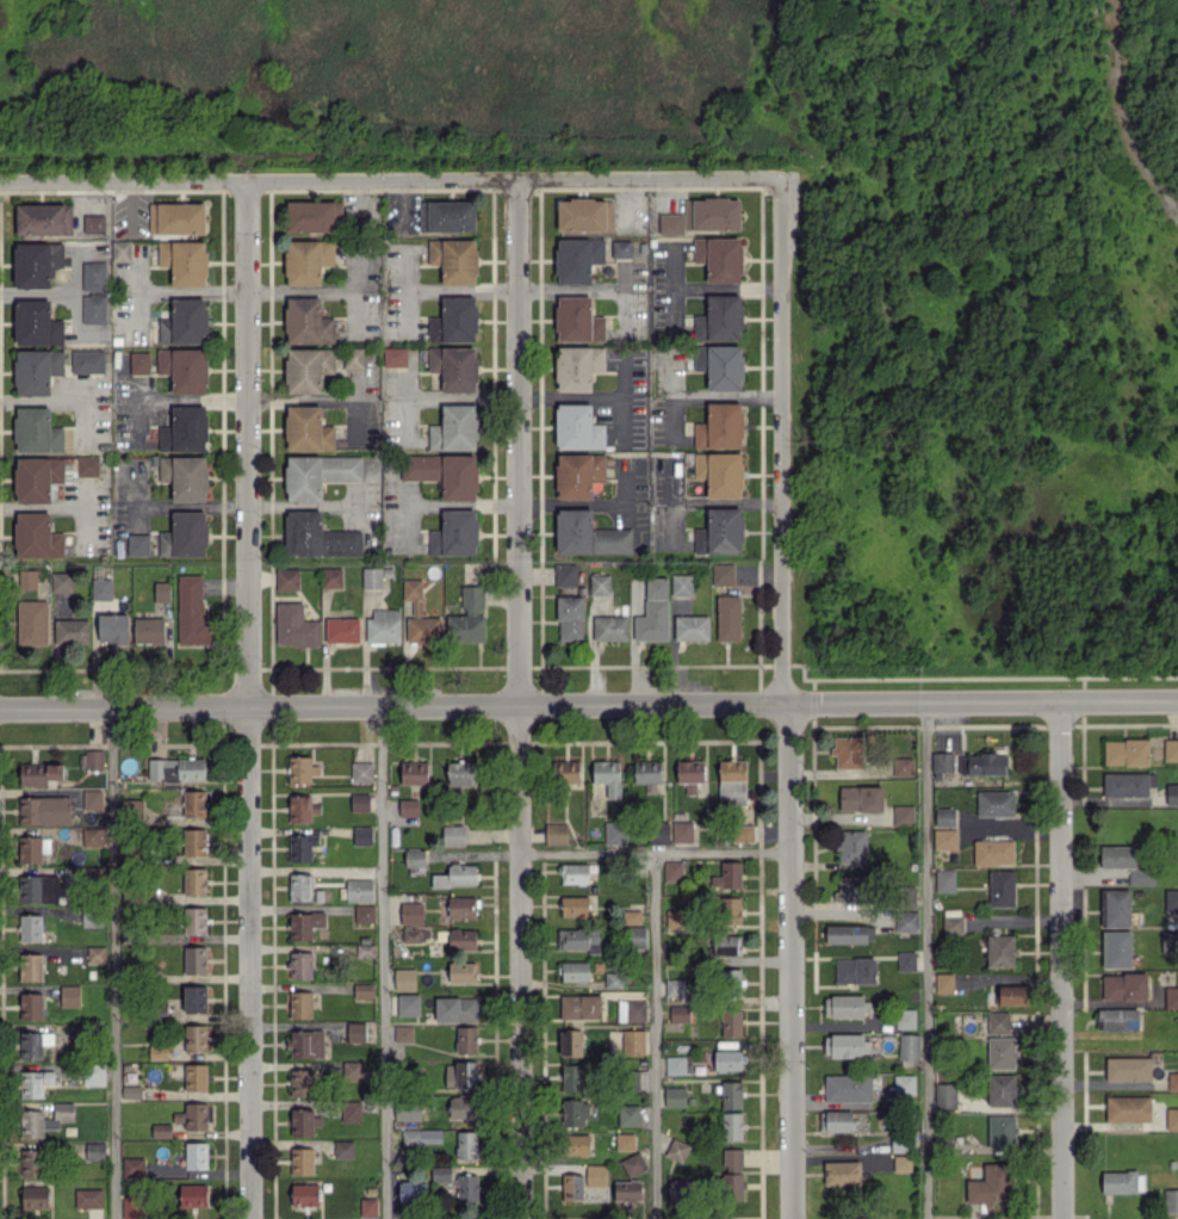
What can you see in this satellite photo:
road: (1123, 113)
road: (390, 184)
building: (712, 214)
building: (584, 215)
building: (311, 216)
building: (447, 216)
building: (176, 217)
building: (43, 218)
building: (93, 223)
building: (670, 223)
building: (621, 248)
building: (120, 250)
building: (719, 258)
building: (577, 259)
building: (306, 260)
building: (454, 260)
building: (184, 261)
building: (35, 262)
building: (93, 276)
road: (589, 287)
road: (461, 291)
building: (93, 309)
building: (719, 318)
building: (454, 320)
building: (577, 320)
building: (184, 321)
building: (308, 321)
building: (36, 323)
building: (395, 357)
building: (87, 360)
building: (138, 361)
building: (317, 366)
building: (720, 366)
building: (454, 367)
building: (577, 367)
building: (184, 369)
building: (36, 370)
road: (669, 373)
road: (622, 375)
road: (353, 386)
road: (703, 396)
road: (461, 397)
road: (594, 397)
road: (191, 398)
road: (322, 398)
building: (720, 426)
building: (577, 427)
building: (454, 428)
building: (185, 429)
building: (306, 429)
building: (36, 431)
road: (781, 440)
building: (87, 465)
building: (720, 472)
building: (317, 474)
building: (445, 474)
building: (578, 474)
building: (38, 477)
building: (185, 477)
road: (303, 505)
road: (464, 505)
road: (188, 506)
building: (720, 531)
building: (188, 533)
building: (454, 533)
building: (588, 534)
building: (36, 536)
building: (317, 536)
building: (165, 543)
building: (137, 544)
building: (565, 574)
building: (723, 574)
building: (331, 577)
building: (371, 577)
building: (26, 578)
building: (286, 578)
building: (61, 582)
building: (600, 583)
building: (681, 584)
building: (101, 589)
building: (161, 592)
building: (472, 598)
building: (191, 611)
building: (653, 611)
building: (420, 615)
building: (570, 618)
building: (727, 618)
building: (31, 621)
building: (294, 626)
building: (383, 626)
building: (690, 626)
building: (113, 627)
building: (465, 627)
building: (609, 627)
building: (148, 630)
building: (342, 630)
building: (72, 632)
road: (523, 700)
road: (253, 701)
road: (589, 703)
building: (1171, 749)
building: (847, 751)
building: (1126, 751)
building: (93, 759)
building: (942, 761)
building: (981, 763)
building: (903, 766)
building: (175, 768)
building: (300, 769)
building: (361, 772)
building: (566, 772)
building: (647, 772)
building: (39, 773)
building: (414, 773)
building: (460, 773)
building: (689, 774)
building: (607, 776)
building: (732, 782)
building: (1128, 784)
building: (1172, 793)
building: (861, 798)
building: (92, 799)
building: (359, 802)
building: (132, 803)
building: (194, 803)
building: (994, 803)
building: (408, 806)
building: (302, 807)
building: (44, 810)
building: (903, 815)
building: (944, 817)
building: (682, 830)
building: (659, 831)
building: (556, 833)
building: (615, 833)
building: (743, 833)
building: (361, 835)
building: (453, 835)
building: (92, 836)
building: (944, 839)
building: (194, 841)
building: (302, 844)
road: (656, 846)
building: (851, 846)
building: (32, 848)
building: (993, 852)
building: (1117, 856)
building: (414, 858)
road: (317, 868)
building: (672, 871)
building: (573, 873)
building: (457, 875)
building: (727, 875)
building: (1140, 877)
building: (944, 880)
building: (194, 881)
building: (300, 886)
building: (39, 887)
building: (1002, 887)
building: (360, 890)
building: (852, 890)
building: (1171, 899)
building: (461, 906)
building: (1115, 908)
building: (728, 910)
building: (411, 912)
building: (364, 914)
building: (92, 916)
building: (632, 916)
building: (194, 920)
building: (674, 920)
building: (906, 921)
building: (304, 924)
building: (951, 924)
building: (30, 927)
building: (849, 933)
building: (415, 934)
building: (639, 936)
building: (461, 939)
building: (577, 939)
building: (1170, 941)
building: (727, 945)
building: (1116, 948)
building: (365, 949)
building: (1000, 951)
building: (95, 953)
building: (194, 959)
road: (1059, 959)
road: (788, 960)
building: (906, 960)
road: (923, 960)
road: (383, 961)
road: (111, 963)
building: (300, 965)
building: (31, 966)
building: (855, 970)
building: (463, 971)
building: (404, 979)
building: (613, 979)
building: (730, 979)
building: (943, 983)
building: (674, 986)
building: (1124, 986)
building: (362, 990)
building: (69, 995)
building: (1011, 996)
building: (1171, 997)
building: (194, 998)
building: (300, 1004)
building: (408, 1004)
building: (31, 1005)
building: (579, 1005)
building: (845, 1005)
building: (455, 1009)
building: (631, 1010)
building: (678, 1013)
building: (905, 1017)
building: (1117, 1019)
building: (731, 1022)
building: (998, 1022)
building: (355, 1032)
building: (403, 1033)
road: (655, 1033)
building: (196, 1038)
building: (466, 1039)
building: (632, 1041)
building: (570, 1042)
building: (35, 1044)
building: (306, 1044)
building: (845, 1045)
building: (909, 1046)
building: (157, 1052)
building: (1002, 1052)
building: (727, 1060)
building: (675, 1065)
building: (1128, 1068)
building: (351, 1070)
building: (461, 1073)
building: (94, 1075)
building: (194, 1077)
building: (571, 1077)
building: (1172, 1081)
building: (35, 1082)
building: (302, 1082)
building: (903, 1085)
building: (848, 1088)
building: (1002, 1090)
building: (131, 1091)
building: (731, 1095)
building: (944, 1095)
building: (675, 1096)
building: (463, 1107)
building: (1128, 1108)
building: (351, 1110)
building: (573, 1112)
building: (408, 1113)
building: (194, 1115)
building: (628, 1115)
building: (44, 1119)
building: (1172, 1119)
building: (837, 1120)
building: (304, 1122)
building: (731, 1125)
building: (161, 1130)
building: (1000, 1131)
building: (420, 1138)
building: (625, 1140)
building: (903, 1143)
building: (577, 1144)
building: (466, 1145)
building: (343, 1149)
building: (95, 1150)
building: (677, 1150)
building: (196, 1155)
building: (302, 1161)
building: (31, 1162)
building: (875, 1163)
building: (901, 1163)
building: (633, 1164)
building: (132, 1167)
building: (440, 1172)
building: (842, 1172)
building: (732, 1174)
building: (595, 1175)
building: (1122, 1181)
building: (990, 1184)
building: (572, 1187)
building: (467, 1189)
building: (627, 1189)
building: (680, 1189)
building: (410, 1193)
building: (304, 1194)
building: (190, 1195)
building: (35, 1198)
building: (88, 1198)
building: (1171, 1200)
building: (134, 1206)
building: (368, 1206)

